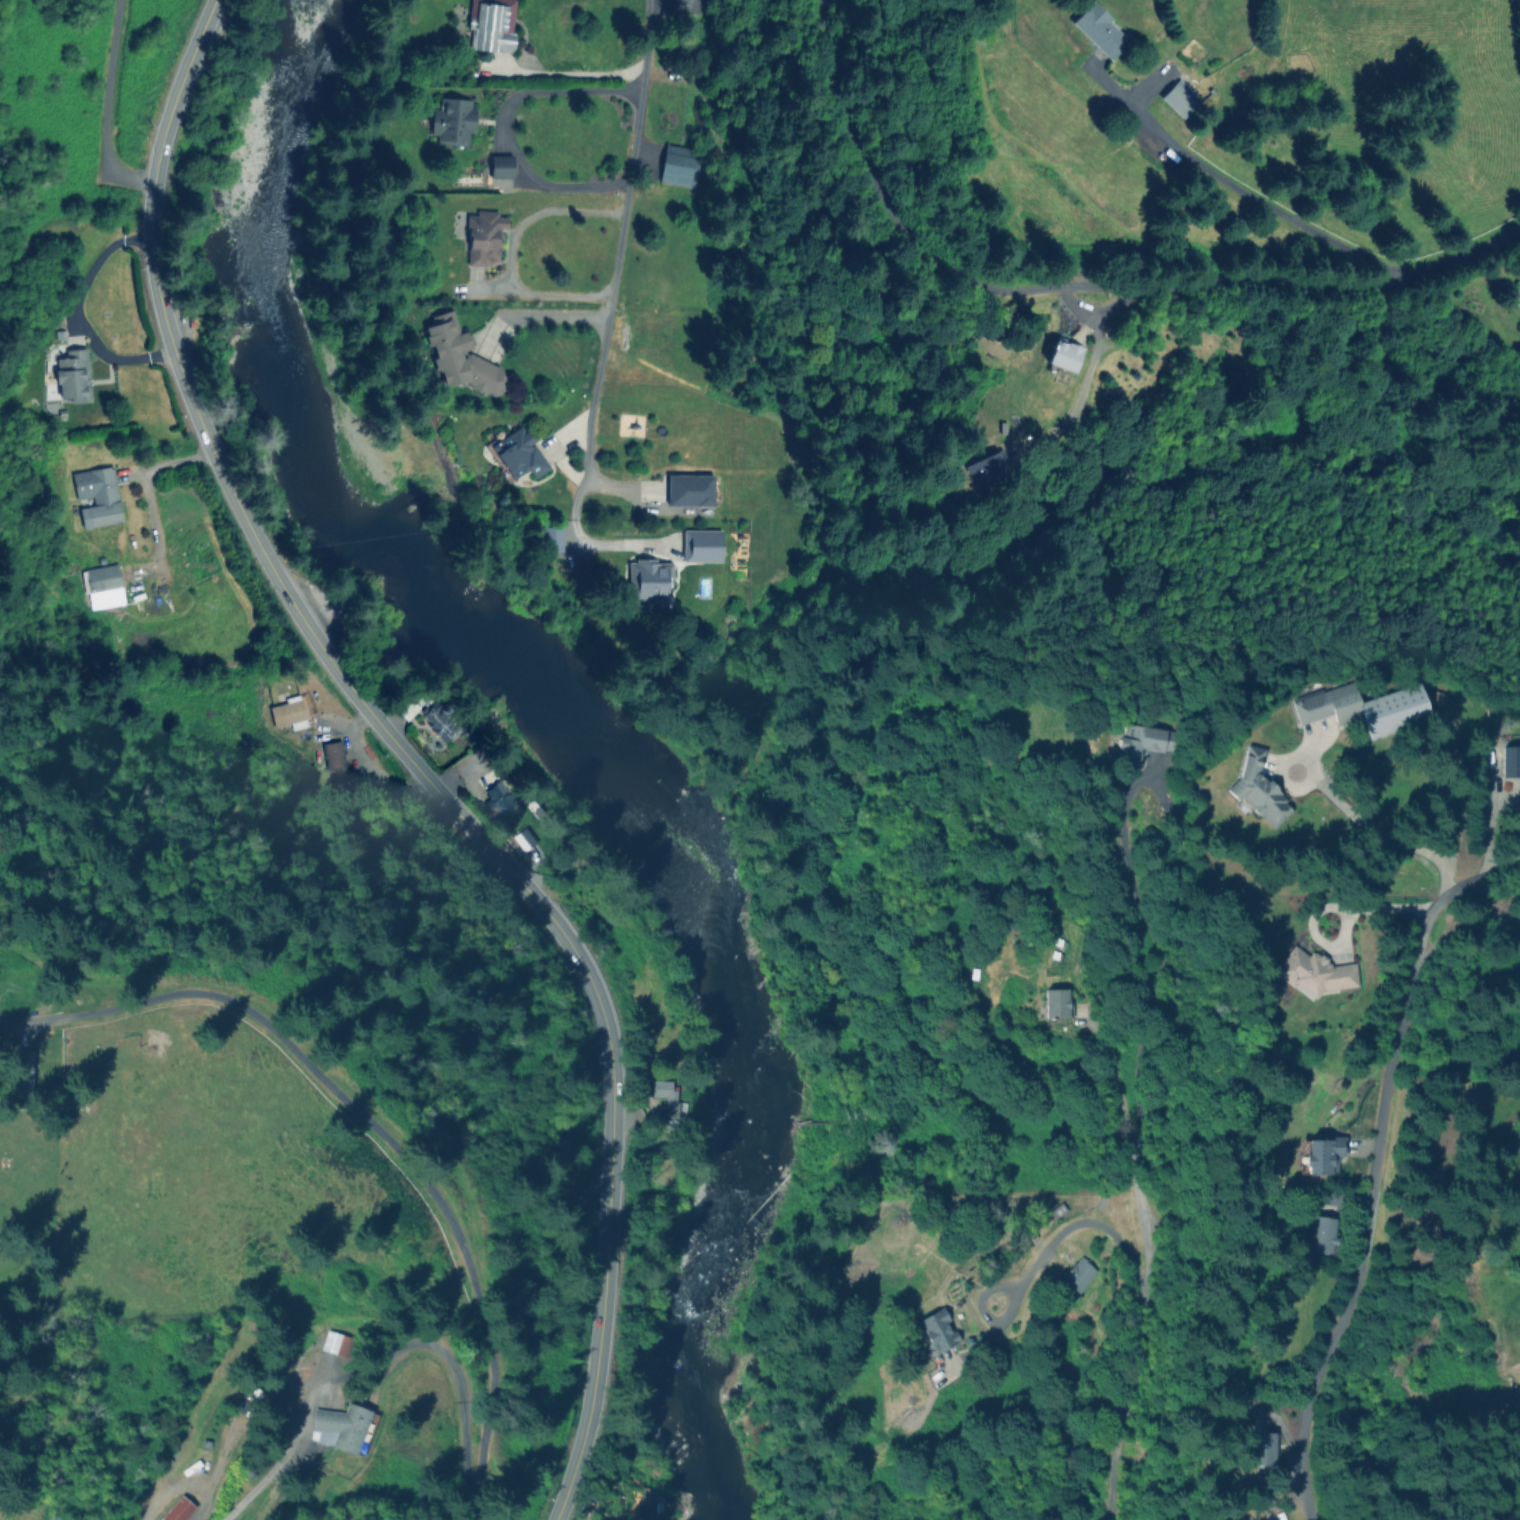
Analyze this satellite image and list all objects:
building: (684, 6)
building: (490, 25)
building: (1097, 28)
building: (1178, 97)
road: (106, 112)
building: (452, 120)
road: (507, 124)
building: (500, 166)
building: (678, 166)
road: (1259, 202)
building: (483, 236)
road: (511, 250)
road: (616, 257)
road: (1083, 284)
road: (1099, 308)
road: (75, 313)
road: (548, 315)
building: (1063, 354)
building: (460, 360)
building: (72, 375)
road: (1080, 388)
building: (518, 454)
road: (170, 463)
building: (985, 467)
building: (689, 489)
building: (96, 496)
building: (701, 545)
building: (649, 581)
building: (102, 582)
building: (1363, 707)
building: (288, 714)
building: (437, 721)
river: (577, 738)
building: (1141, 742)
road: (418, 754)
building: (334, 757)
building: (1510, 760)
building: (1257, 789)
road: (1376, 832)
building: (1314, 972)
road: (1146, 992)
building: (1056, 1001)
road: (1396, 1036)
building: (24, 1070)
building: (666, 1103)
road: (375, 1125)
building: (1321, 1154)
road: (1068, 1227)
building: (1319, 1233)
building: (1075, 1277)
building: (935, 1330)
building: (334, 1343)
road: (457, 1381)
road: (1310, 1392)
road: (1132, 1398)
building: (341, 1426)
building: (320, 1436)
building: (1261, 1449)
building: (647, 1505)
building: (177, 1510)

